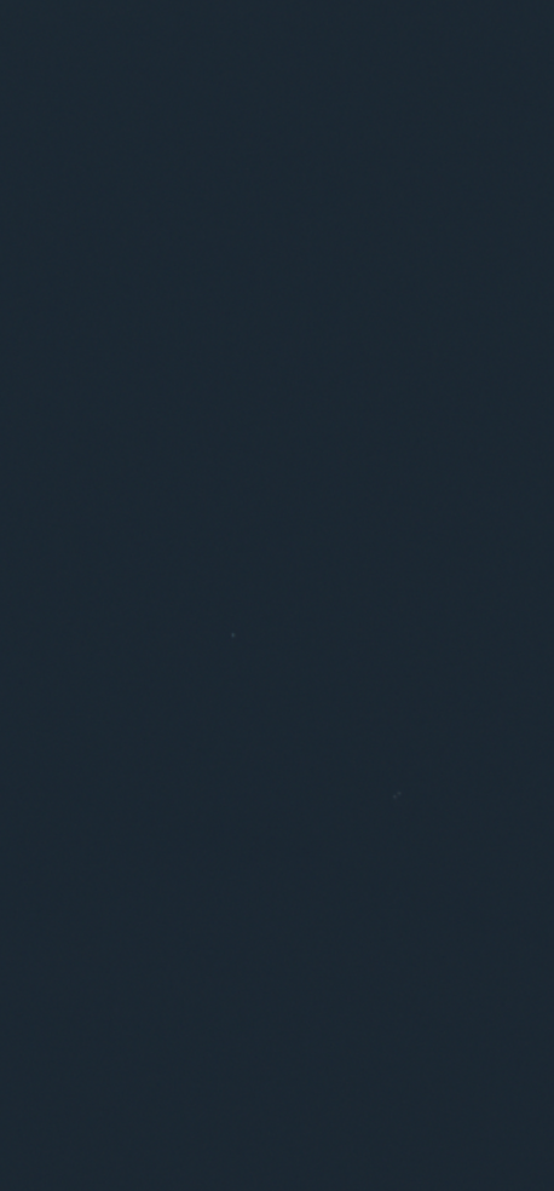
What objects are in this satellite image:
river: (277, 991)

